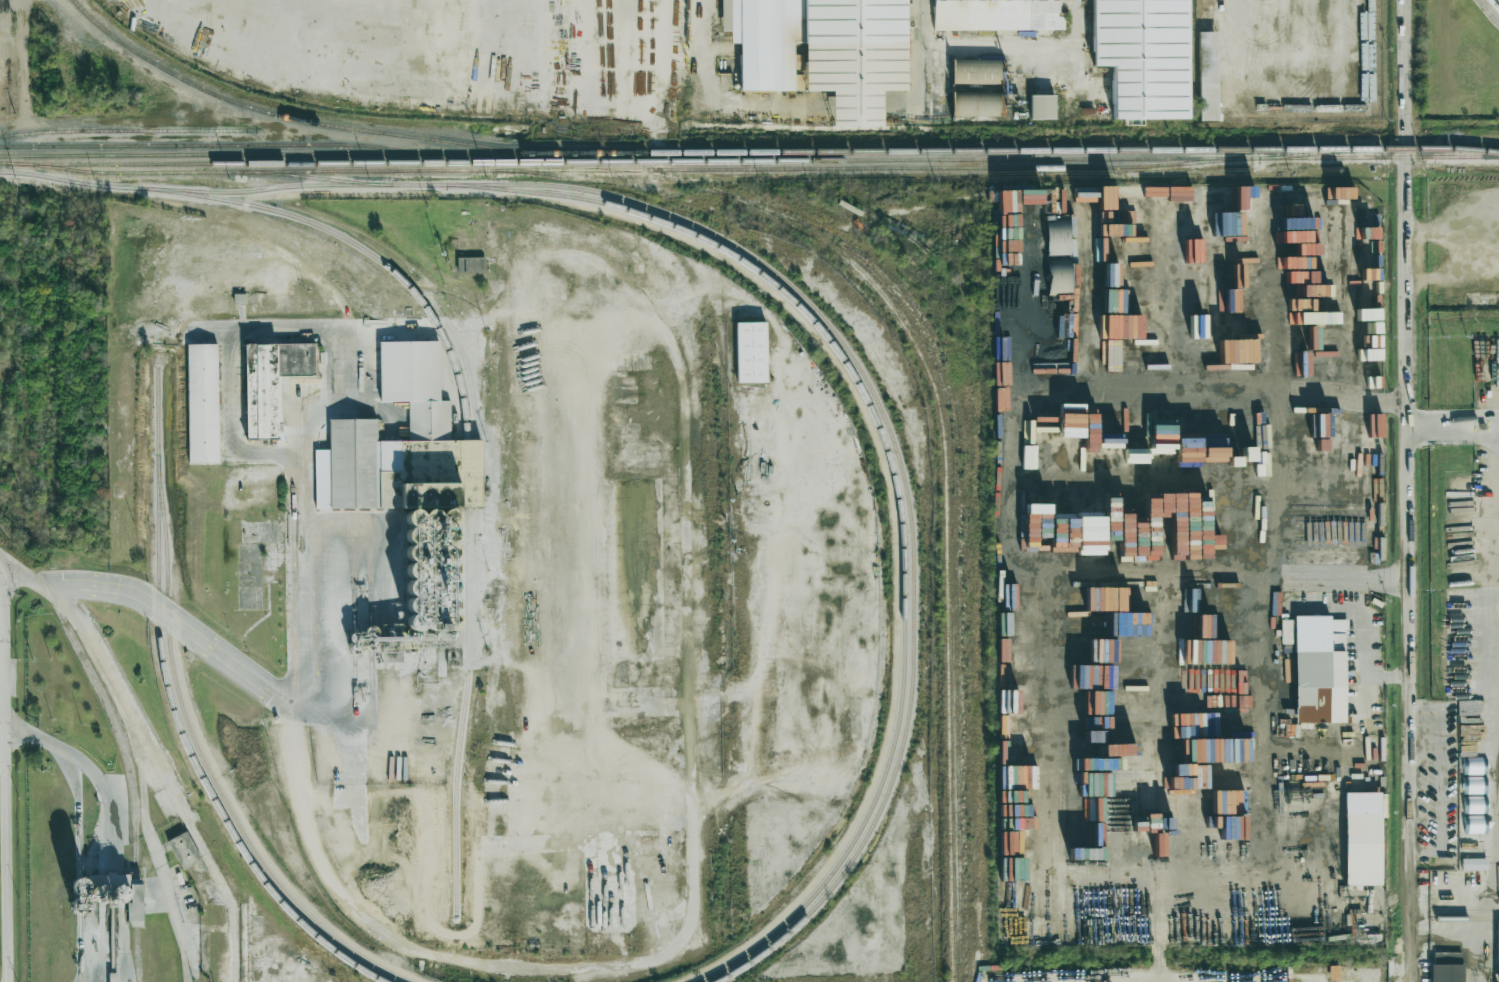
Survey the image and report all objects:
railway: (1494, 5)
railway: (1488, 12)
building: (997, 15)
road: (923, 43)
building: (823, 50)
building: (1143, 56)
road: (611, 73)
building: (1208, 76)
building: (977, 87)
building: (1042, 107)
railway: (301, 120)
railway: (127, 130)
road: (99, 137)
railway: (220, 144)
railway: (1468, 148)
railway: (749, 151)
railway: (1318, 152)
railway: (1378, 157)
railway: (632, 161)
railway: (746, 169)
railway: (528, 171)
railway: (120, 172)
railway: (656, 177)
railway: (268, 188)
railway: (590, 191)
building: (1054, 202)
railway: (761, 206)
railway: (295, 216)
railway: (684, 230)
building: (1057, 237)
building: (471, 264)
building: (1059, 274)
railway: (450, 326)
building: (751, 352)
road: (227, 371)
building: (408, 371)
building: (272, 381)
road: (346, 386)
building: (202, 403)
building: (429, 420)
road: (1452, 428)
building: (1110, 457)
building: (352, 462)
building: (427, 473)
railway: (466, 473)
railway: (475, 473)
railway: (385, 474)
railway: (393, 474)
road: (1405, 491)
road: (1278, 496)
railway: (946, 536)
railway: (955, 555)
road: (1067, 571)
road: (50, 583)
railway: (386, 589)
railway: (395, 589)
railway: (480, 589)
railway: (57, 609)
road: (1364, 637)
railway: (469, 644)
railway: (477, 657)
building: (1319, 670)
road: (307, 691)
road: (1365, 696)
railway: (172, 709)
railway: (908, 715)
railway: (898, 724)
road: (1453, 752)
railway: (200, 757)
building: (1474, 766)
road: (4, 785)
building: (1474, 785)
railway: (132, 788)
road: (144, 798)
building: (1475, 804)
road: (116, 823)
building: (1475, 824)
building: (1362, 838)
building: (183, 850)
road: (210, 863)
building: (1474, 864)
road: (78, 869)
building: (134, 899)
railway: (135, 900)
railway: (1466, 910)
railway: (1466, 917)
railway: (136, 952)
building: (1447, 972)

